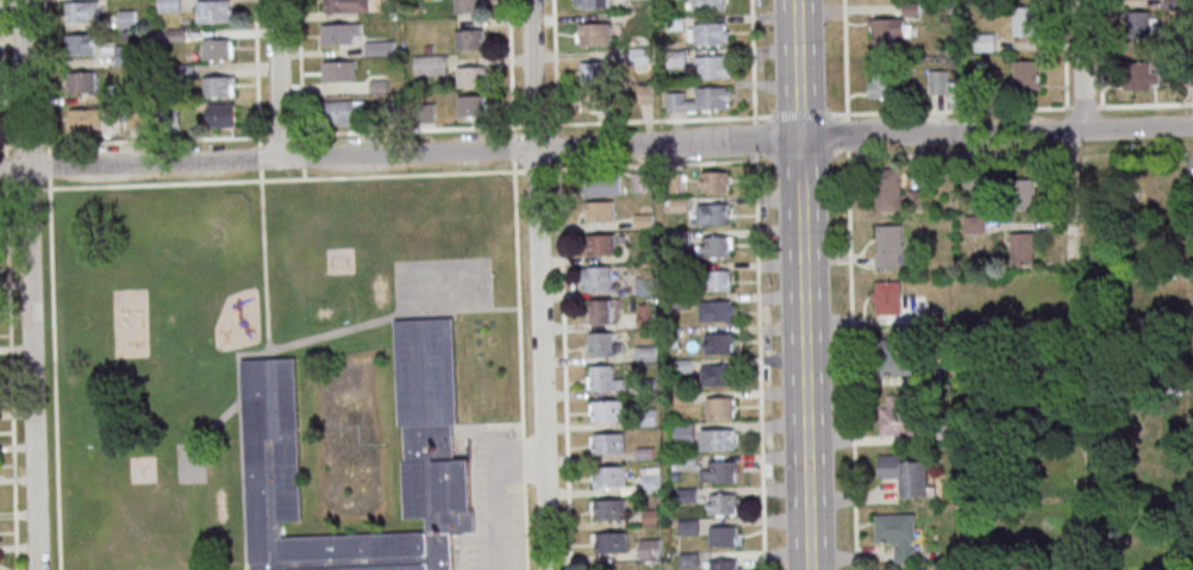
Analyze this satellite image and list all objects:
building: (592, 4)
building: (169, 5)
building: (710, 5)
building: (344, 6)
building: (468, 6)
building: (80, 11)
building: (211, 12)
building: (127, 19)
building: (1024, 20)
building: (1138, 24)
building: (888, 31)
building: (333, 33)
building: (594, 33)
building: (710, 33)
building: (469, 39)
building: (986, 42)
building: (81, 44)
building: (380, 48)
building: (214, 49)
road: (751, 58)
road: (507, 62)
road: (551, 62)
building: (430, 64)
road: (1081, 65)
building: (708, 67)
building: (335, 71)
building: (1025, 73)
building: (1138, 74)
building: (471, 76)
road: (277, 80)
building: (81, 81)
building: (938, 82)
road: (21, 83)
building: (216, 86)
building: (882, 86)
building: (700, 100)
building: (589, 101)
building: (473, 105)
building: (344, 112)
building: (218, 115)
building: (86, 118)
road: (276, 133)
road: (21, 144)
road: (595, 145)
road: (654, 163)
road: (533, 169)
road: (324, 176)
building: (973, 177)
building: (642, 181)
building: (716, 181)
building: (602, 184)
road: (23, 188)
building: (887, 188)
building: (1019, 192)
building: (917, 198)
building: (598, 211)
building: (711, 213)
road: (1068, 218)
building: (643, 220)
building: (973, 224)
building: (600, 243)
building: (888, 245)
building: (1022, 245)
building: (714, 246)
road: (557, 248)
building: (595, 277)
building: (712, 280)
building: (644, 283)
road: (538, 284)
road: (802, 284)
road: (850, 284)
road: (757, 295)
building: (886, 296)
building: (598, 311)
building: (713, 311)
building: (645, 315)
building: (719, 342)
building: (599, 343)
road: (51, 356)
building: (897, 356)
road: (8, 357)
road: (30, 368)
building: (716, 375)
building: (600, 376)
building: (718, 406)
building: (607, 409)
building: (897, 414)
building: (685, 432)
building: (716, 438)
building: (608, 443)
building: (273, 444)
building: (722, 470)
building: (905, 472)
building: (608, 475)
building: (650, 480)
road: (491, 488)
building: (720, 502)
building: (608, 508)
building: (688, 527)
building: (897, 533)
building: (722, 534)
building: (611, 541)
building: (650, 549)
building: (723, 564)
building: (908, 569)

